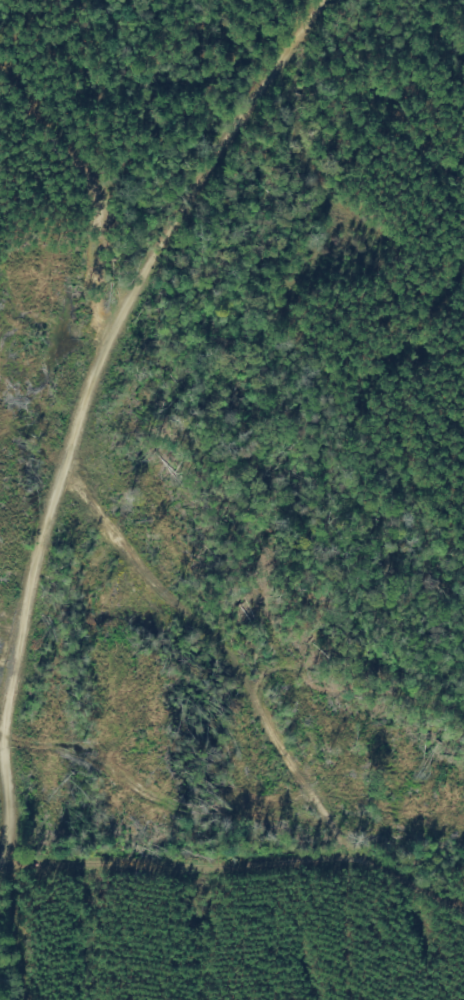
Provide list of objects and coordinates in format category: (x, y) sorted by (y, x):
road: (97, 462)
road: (267, 742)

